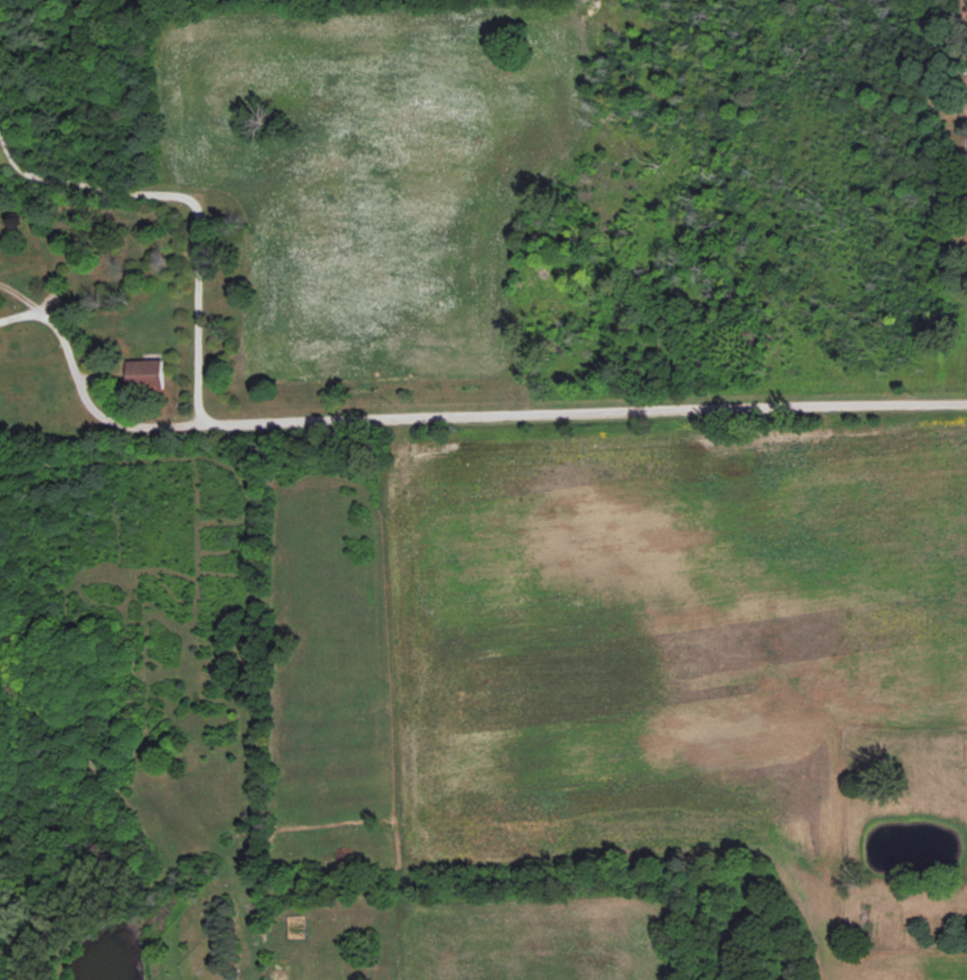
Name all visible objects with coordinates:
road: (194, 210)
road: (19, 296)
road: (18, 315)
building: (143, 373)
road: (92, 412)
road: (585, 420)

